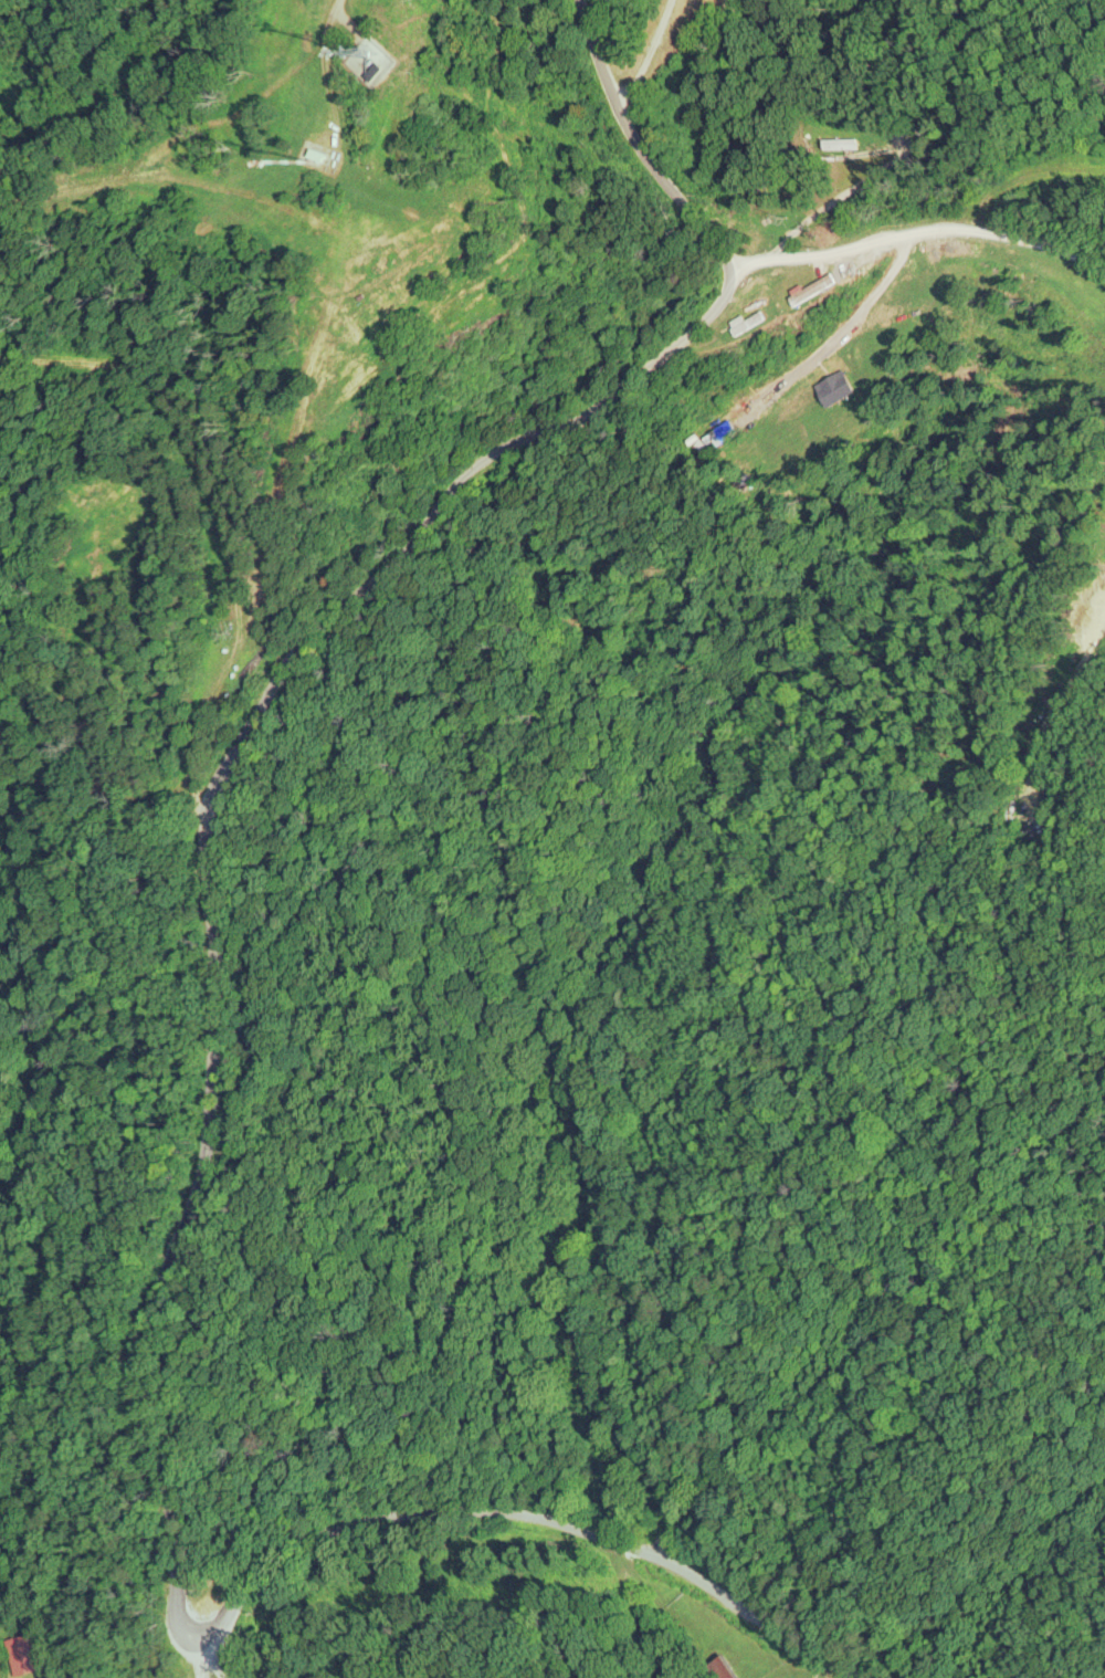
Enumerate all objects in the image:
road: (640, 135)
building: (323, 155)
road: (915, 229)
building: (969, 249)
building: (817, 290)
building: (903, 317)
building: (749, 322)
building: (1024, 816)
road: (152, 1245)
building: (25, 1654)
road: (200, 1666)
road: (212, 1666)
building: (727, 1668)

